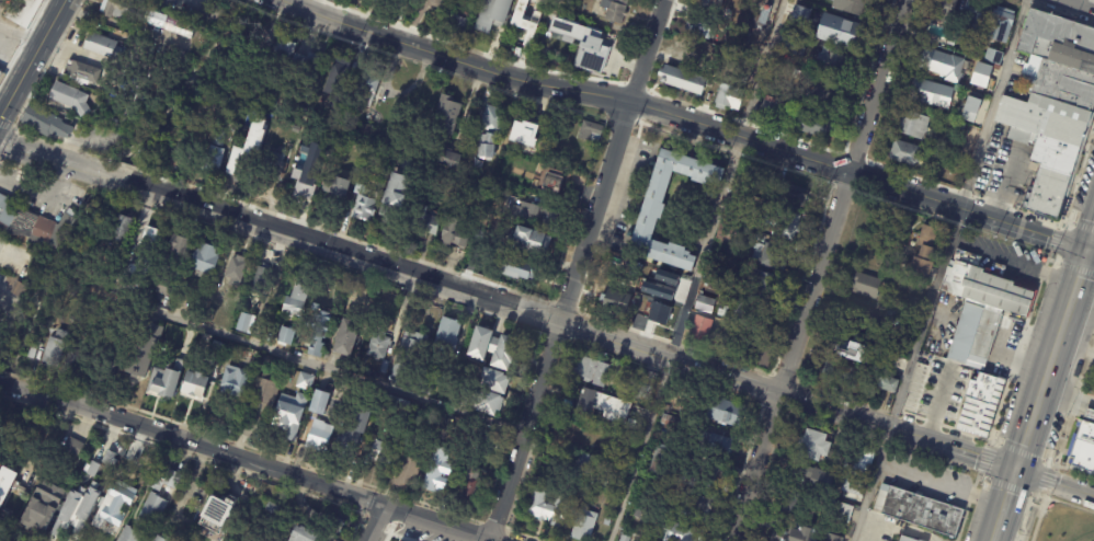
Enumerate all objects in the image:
building: (373, 0)
building: (391, 1)
building: (437, 3)
building: (471, 4)
building: (711, 4)
road: (1078, 4)
building: (850, 7)
building: (615, 11)
building: (939, 11)
building: (21, 12)
building: (217, 14)
building: (796, 14)
building: (493, 15)
building: (146, 16)
building: (752, 18)
building: (976, 18)
building: (458, 26)
building: (525, 26)
building: (1002, 27)
road: (1, 28)
building: (842, 32)
building: (707, 33)
road: (21, 34)
building: (951, 39)
building: (932, 41)
building: (582, 44)
building: (788, 45)
building: (103, 47)
building: (282, 53)
building: (991, 55)
road: (33, 58)
building: (306, 64)
building: (832, 67)
building: (942, 67)
building: (0, 69)
building: (81, 71)
building: (339, 72)
building: (980, 74)
building: (683, 82)
building: (968, 87)
building: (367, 90)
building: (262, 92)
building: (820, 93)
building: (932, 96)
building: (67, 100)
building: (729, 100)
building: (969, 106)
building: (1053, 107)
building: (301, 110)
building: (350, 110)
building: (129, 112)
building: (772, 112)
building: (445, 118)
building: (41, 119)
road: (693, 119)
building: (111, 122)
building: (810, 125)
building: (365, 128)
building: (914, 128)
building: (961, 129)
building: (490, 130)
building: (525, 131)
building: (591, 131)
building: (327, 135)
building: (343, 145)
building: (246, 150)
building: (182, 151)
building: (905, 156)
road: (53, 159)
building: (449, 160)
building: (212, 162)
building: (386, 163)
building: (273, 165)
road: (111, 177)
building: (748, 177)
building: (306, 179)
building: (552, 183)
building: (335, 186)
building: (395, 193)
building: (791, 194)
building: (365, 205)
building: (736, 205)
building: (651, 212)
building: (524, 214)
building: (423, 222)
building: (783, 222)
building: (33, 225)
building: (119, 227)
building: (737, 233)
building: (453, 234)
building: (478, 235)
building: (148, 241)
building: (529, 242)
road: (1092, 242)
building: (175, 246)
traffic signals: (1090, 250)
road: (1092, 250)
building: (925, 254)
building: (771, 256)
building: (965, 257)
building: (203, 261)
road: (578, 269)
building: (235, 270)
building: (521, 270)
building: (648, 270)
road: (696, 270)
road: (819, 270)
road: (937, 270)
building: (261, 278)
building: (681, 284)
building: (763, 285)
building: (866, 286)
building: (19, 289)
building: (989, 290)
building: (162, 295)
road: (4, 299)
building: (296, 301)
building: (616, 302)
building: (913, 303)
building: (705, 306)
building: (739, 312)
building: (208, 316)
building: (862, 316)
building: (892, 318)
road: (568, 322)
building: (700, 331)
building: (319, 332)
building: (447, 334)
building: (286, 336)
building: (347, 337)
building: (975, 337)
building: (217, 346)
building: (380, 347)
building: (492, 347)
road: (1076, 347)
building: (54, 348)
building: (141, 348)
building: (410, 355)
building: (760, 355)
building: (869, 357)
building: (72, 360)
road: (1053, 360)
road: (318, 366)
building: (592, 371)
building: (954, 373)
building: (841, 375)
building: (314, 379)
road: (3, 380)
building: (305, 380)
building: (163, 381)
building: (233, 381)
building: (493, 381)
building: (328, 384)
building: (888, 384)
building: (194, 387)
building: (646, 387)
building: (426, 388)
building: (265, 393)
building: (451, 398)
building: (319, 403)
building: (581, 403)
building: (979, 403)
building: (489, 404)
building: (602, 405)
railway: (1050, 407)
building: (403, 408)
building: (629, 408)
building: (727, 412)
building: (433, 415)
building: (668, 422)
building: (14, 424)
building: (285, 424)
building: (444, 435)
building: (33, 436)
building: (319, 436)
building: (350, 440)
building: (716, 445)
building: (1085, 445)
building: (72, 446)
building: (813, 447)
building: (383, 452)
road: (250, 460)
building: (662, 460)
building: (858, 463)
building: (593, 471)
traffic signals: (1018, 471)
building: (407, 473)
building: (436, 473)
building: (812, 477)
building: (702, 480)
road: (942, 480)
building: (163, 481)
building: (4, 482)
building: (468, 484)
road: (1056, 484)
building: (852, 491)
building: (116, 503)
building: (793, 503)
building: (42, 505)
road: (1006, 506)
building: (548, 507)
building: (272, 508)
building: (694, 508)
building: (75, 510)
building: (218, 511)
building: (919, 511)
building: (841, 513)
building: (1040, 513)
building: (637, 514)
building: (145, 518)
building: (607, 521)
building: (10, 522)
building: (327, 522)
road: (379, 522)
building: (584, 525)
building: (788, 532)
building: (683, 533)
building: (304, 536)
building: (625, 538)
building: (161, 539)
building: (907, 539)
track: (1091, 539)
building: (837, 540)

